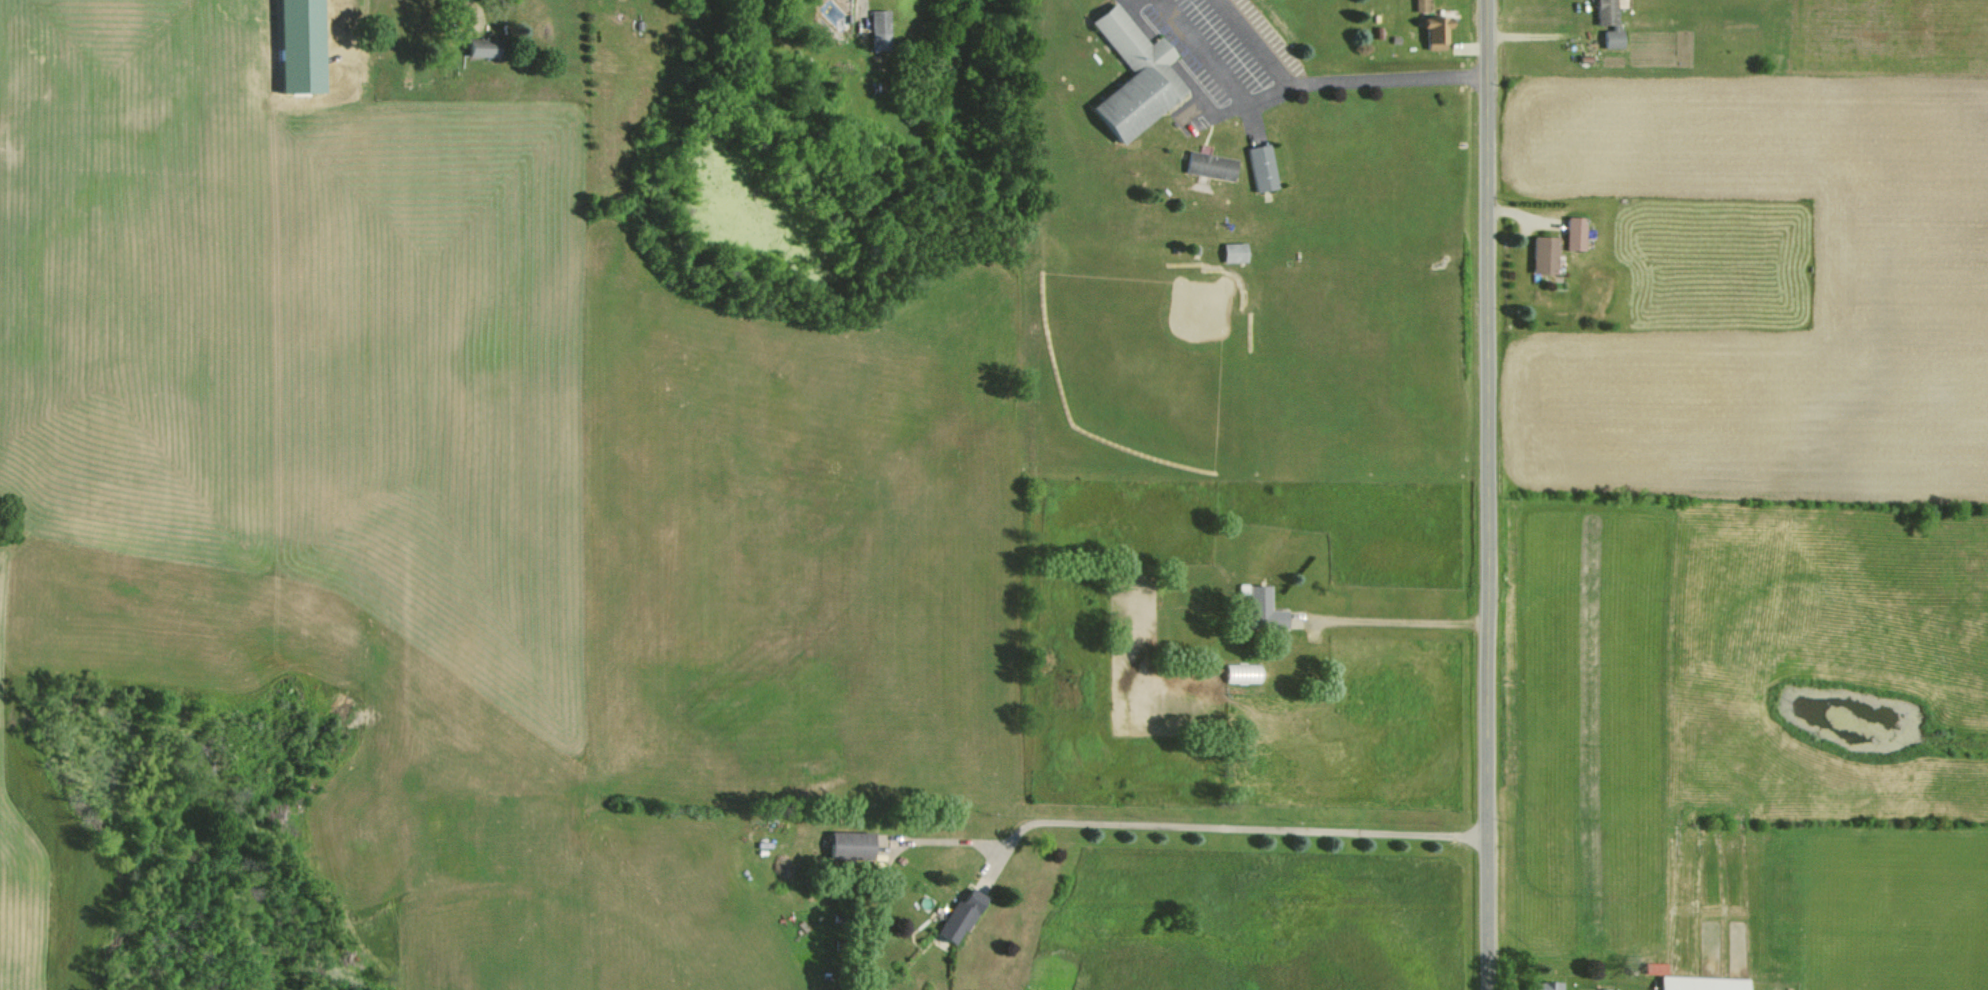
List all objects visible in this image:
building: (1417, 5)
road: (1143, 21)
building: (1607, 23)
building: (879, 26)
road: (469, 28)
building: (1430, 31)
building: (297, 46)
building: (477, 47)
road: (1167, 51)
road: (1219, 69)
building: (1131, 77)
road: (1337, 81)
road: (1203, 96)
building: (1207, 166)
building: (1258, 167)
building: (1572, 233)
building: (1233, 252)
building: (1540, 255)
road: (1495, 495)
building: (1258, 608)
road: (1400, 620)
road: (1229, 825)
building: (844, 844)
building: (954, 916)
building: (1697, 983)
building: (1543, 985)
building: (1603, 989)

